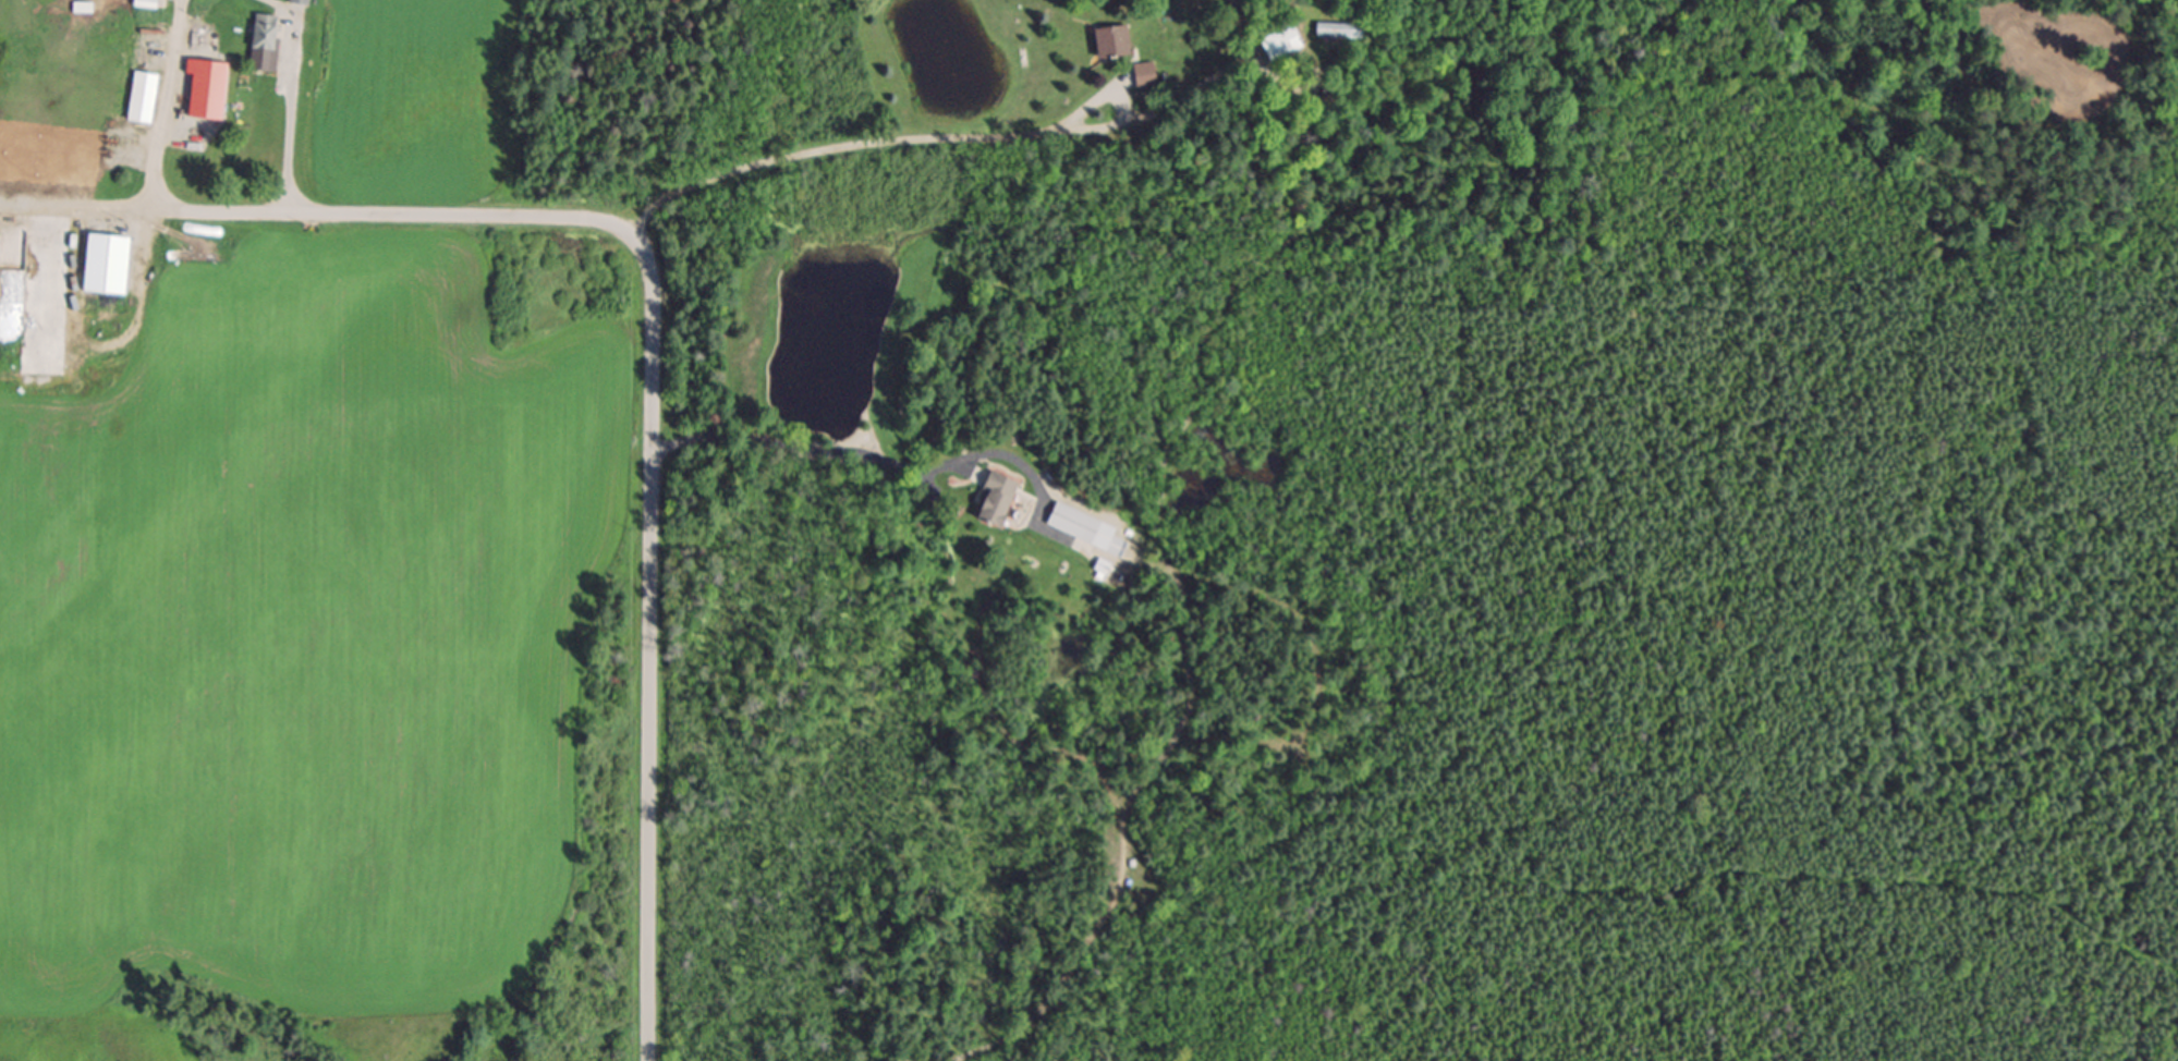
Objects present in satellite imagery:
building: (149, 3)
building: (1335, 29)
building: (1117, 42)
building: (1283, 44)
building: (211, 88)
building: (146, 97)
road: (916, 138)
road: (74, 205)
road: (234, 211)
road: (796, 446)
road: (648, 475)
building: (1002, 498)
building: (1088, 527)
quarry: (97, 1046)

